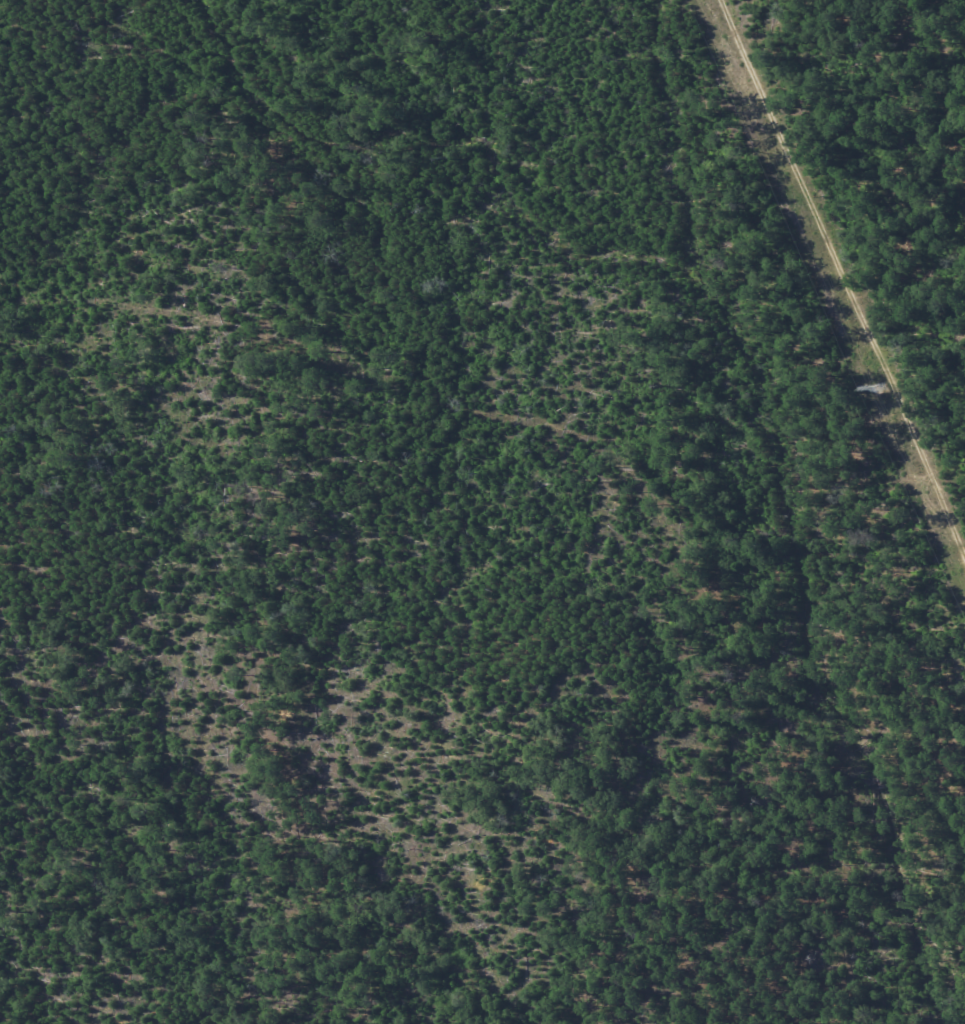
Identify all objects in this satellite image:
power tower: (881, 390)

